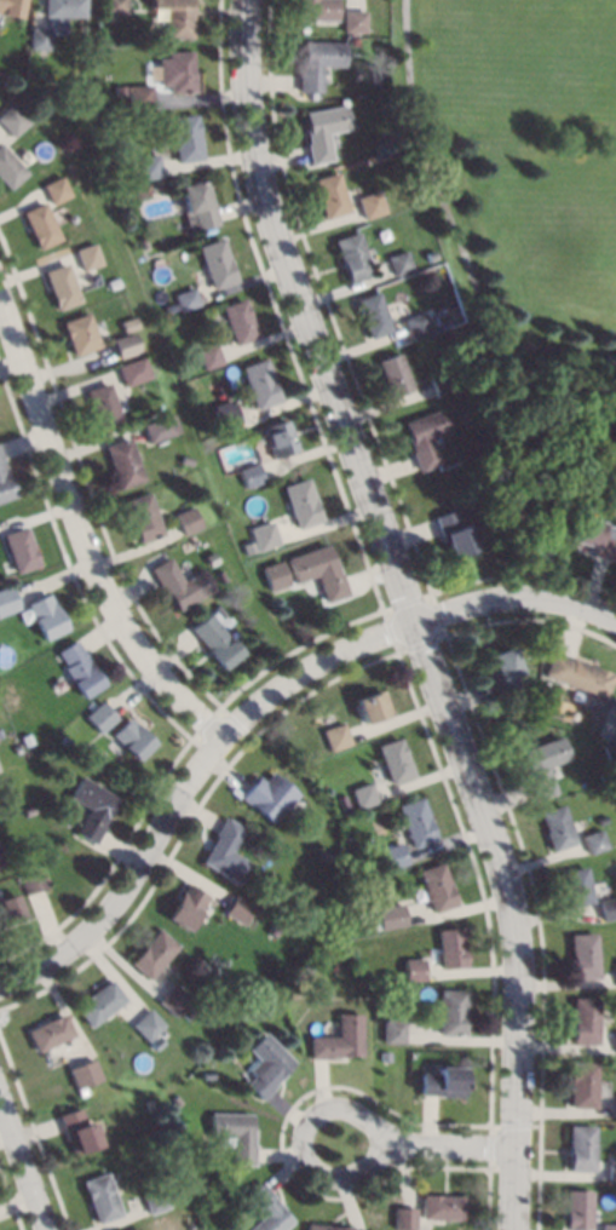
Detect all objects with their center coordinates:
building: (115, 6)
building: (11, 7)
building: (64, 7)
building: (317, 10)
building: (177, 16)
building: (108, 17)
building: (353, 19)
building: (39, 38)
building: (359, 40)
building: (34, 52)
building: (317, 62)
building: (177, 71)
building: (120, 90)
building: (139, 96)
building: (10, 120)
building: (323, 130)
building: (185, 137)
building: (148, 166)
building: (7, 169)
building: (53, 189)
building: (330, 194)
park: (523, 195)
building: (370, 203)
building: (197, 205)
building: (38, 224)
building: (143, 242)
building: (85, 255)
building: (352, 255)
building: (399, 261)
building: (217, 263)
building: (58, 284)
building: (160, 287)
building: (185, 298)
building: (373, 314)
building: (442, 317)
building: (238, 321)
building: (126, 322)
building: (416, 323)
building: (77, 333)
building: (122, 344)
building: (209, 356)
building: (129, 370)
building: (393, 373)
building: (441, 381)
building: (259, 383)
building: (102, 404)
building: (226, 413)
building: (157, 427)
building: (424, 436)
building: (280, 437)
building: (185, 459)
building: (122, 461)
building: (252, 473)
building: (5, 481)
building: (303, 502)
building: (525, 507)
building: (143, 517)
building: (186, 519)
building: (453, 533)
road: (92, 534)
building: (265, 535)
building: (589, 536)
building: (249, 547)
building: (22, 548)
building: (321, 570)
building: (221, 575)
building: (276, 575)
building: (182, 582)
building: (7, 600)
building: (219, 609)
road: (409, 609)
building: (47, 616)
building: (218, 640)
building: (81, 667)
building: (501, 669)
building: (577, 674)
building: (553, 690)
building: (374, 706)
building: (615, 709)
road: (258, 713)
building: (103, 715)
building: (338, 736)
building: (134, 737)
building: (67, 741)
building: (610, 749)
building: (396, 760)
building: (541, 764)
building: (364, 794)
building: (269, 795)
building: (346, 805)
building: (92, 807)
building: (29, 810)
building: (600, 820)
building: (416, 822)
building: (555, 826)
building: (593, 840)
building: (226, 851)
building: (393, 855)
building: (0, 860)
building: (29, 880)
building: (438, 886)
building: (574, 886)
building: (186, 906)
building: (286, 906)
building: (606, 907)
building: (10, 908)
building: (237, 908)
building: (341, 910)
building: (391, 915)
building: (274, 930)
building: (451, 948)
building: (151, 953)
building: (582, 954)
building: (335, 966)
building: (615, 967)
building: (415, 969)
building: (410, 989)
building: (172, 999)
building: (98, 1002)
building: (453, 1012)
building: (186, 1013)
building: (583, 1019)
building: (146, 1024)
building: (395, 1030)
building: (48, 1031)
building: (341, 1039)
building: (151, 1042)
building: (615, 1042)
building: (386, 1054)
building: (267, 1064)
building: (82, 1073)
building: (207, 1075)
building: (443, 1081)
building: (581, 1084)
building: (81, 1090)
building: (105, 1096)
building: (174, 1099)
building: (614, 1104)
building: (75, 1131)
building: (232, 1134)
road: (303, 1143)
road: (456, 1145)
building: (580, 1148)
road: (28, 1161)
building: (611, 1169)
building: (213, 1194)
building: (99, 1197)
building: (152, 1200)
building: (439, 1206)
building: (576, 1208)
building: (265, 1209)
building: (403, 1217)
building: (323, 1226)
building: (608, 1226)

